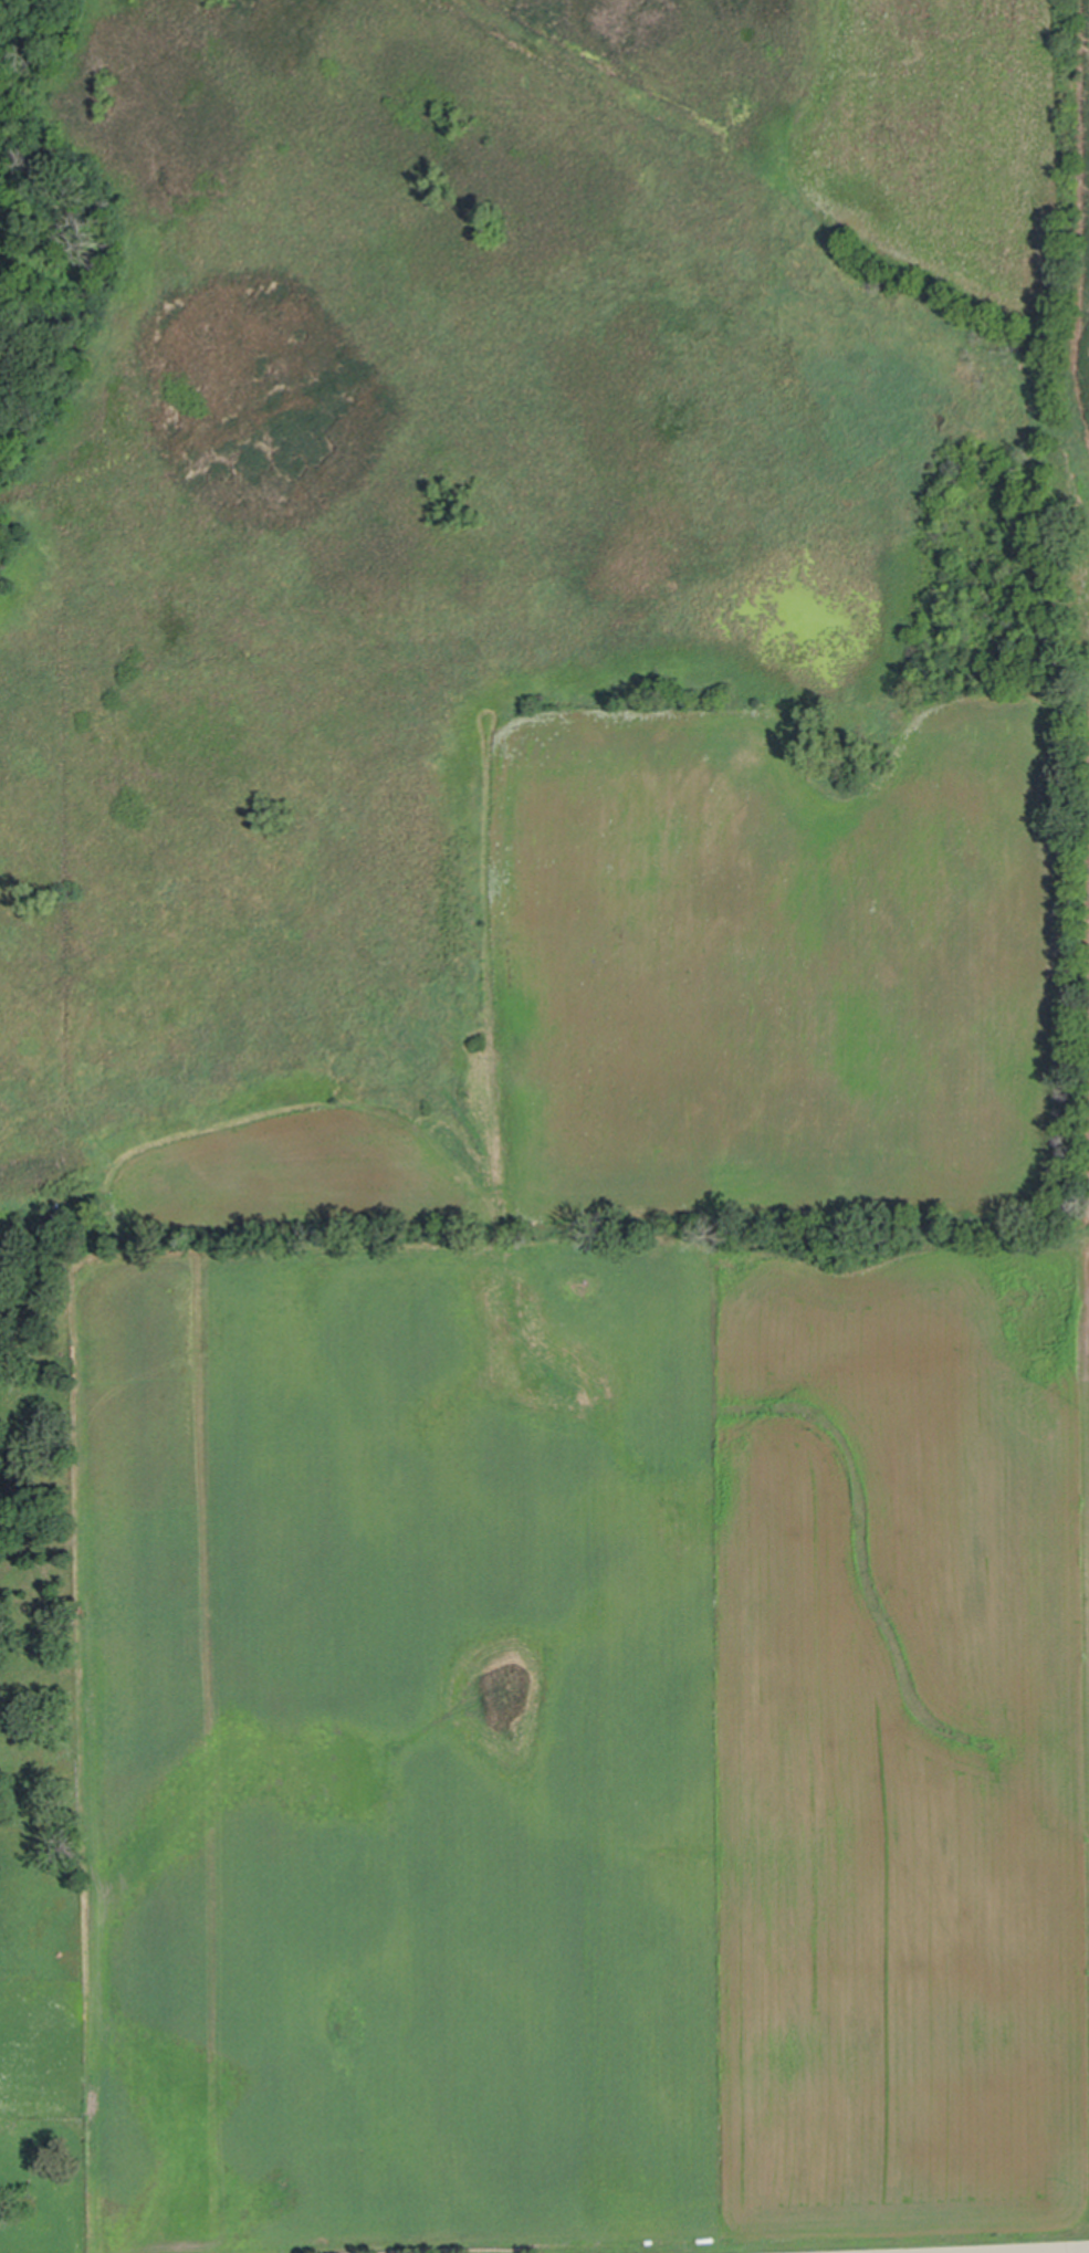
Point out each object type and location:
road: (1072, 2252)

